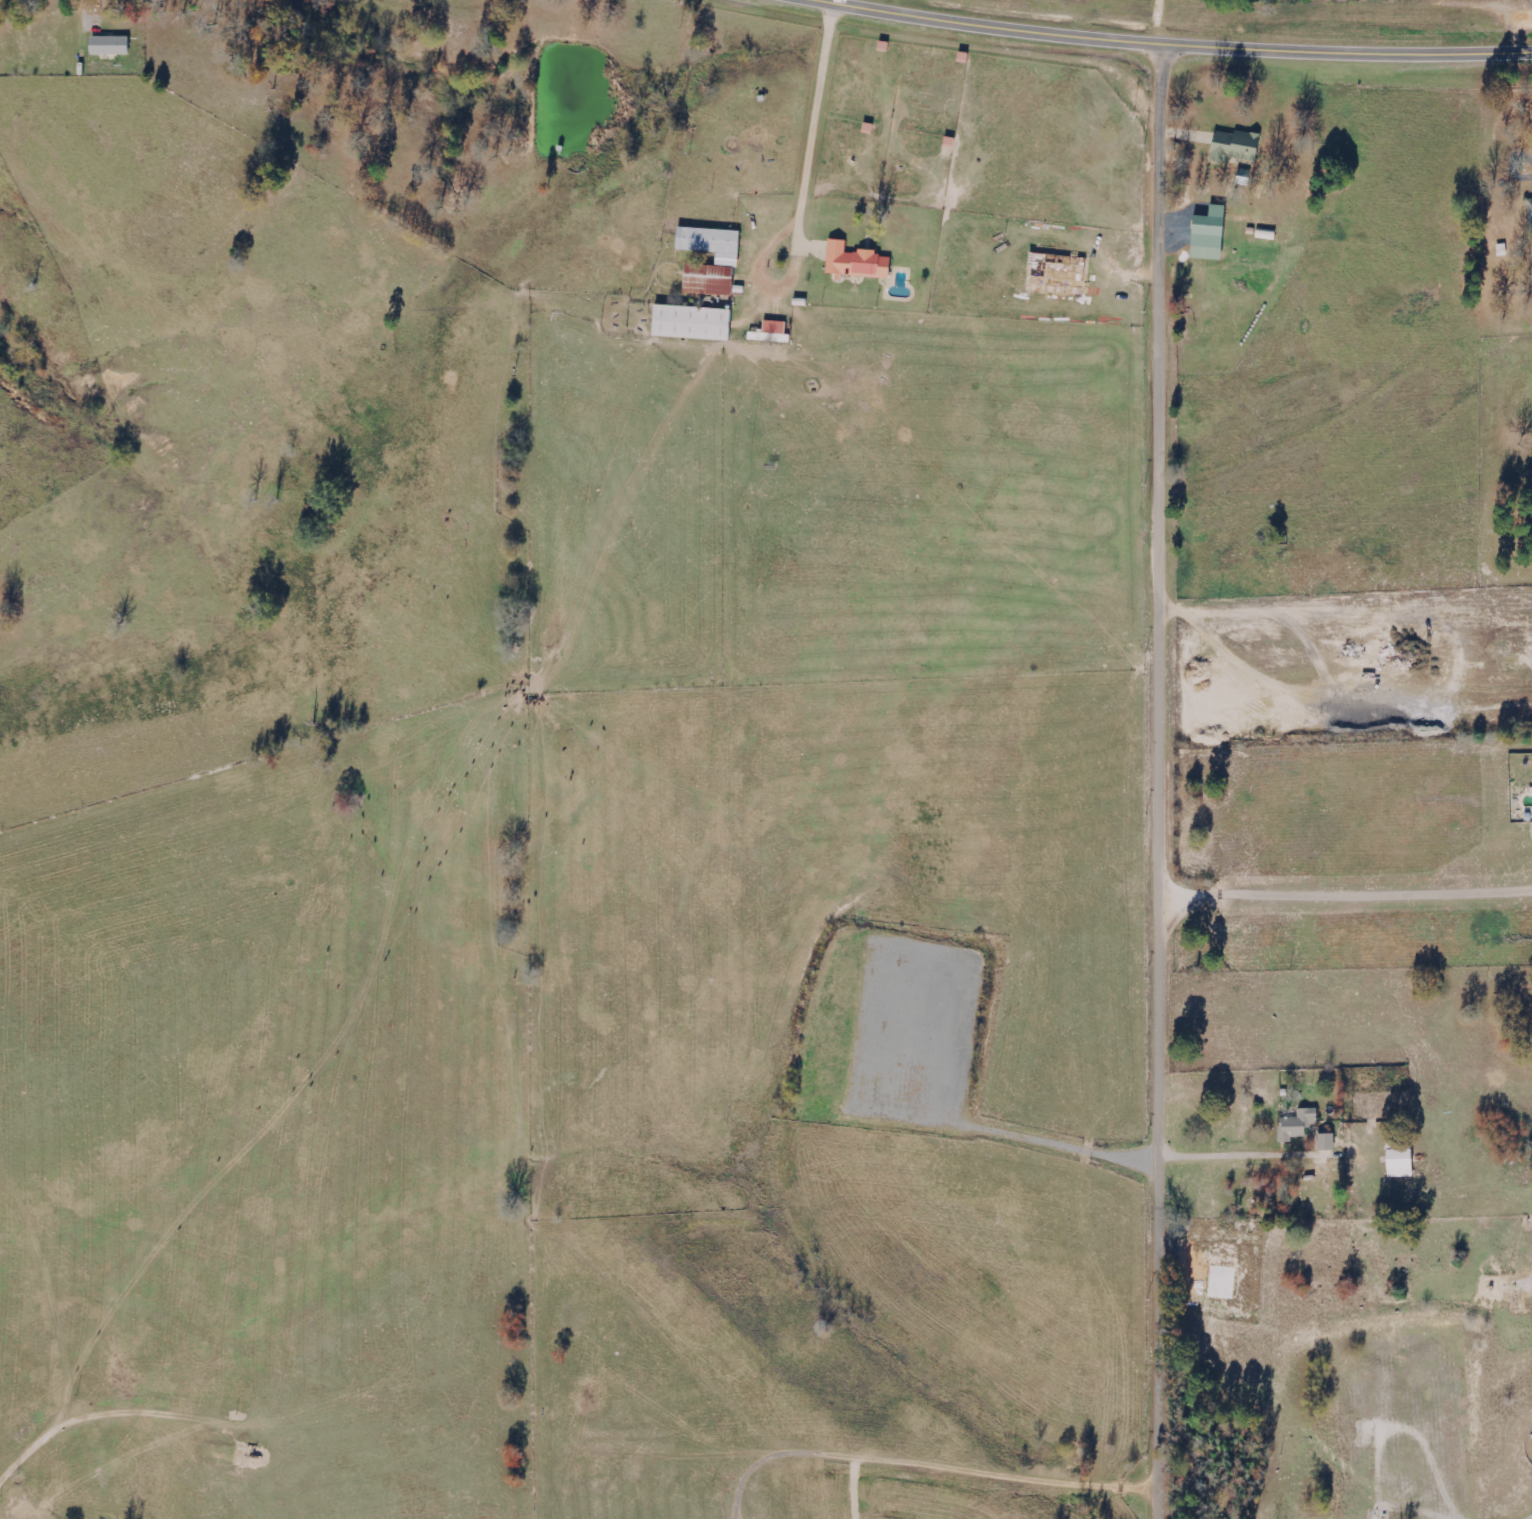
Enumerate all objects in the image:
road: (1179, 19)
road: (1186, 39)
building: (111, 46)
building: (1237, 146)
road: (813, 154)
building: (1531, 204)
building: (1211, 235)
building: (729, 259)
building: (858, 263)
building: (1058, 275)
building: (694, 324)
building: (773, 334)
road: (1168, 467)
road: (1350, 895)
building: (1299, 1125)
building: (1328, 1142)
building: (1402, 1164)
road: (1166, 1207)
road: (898, 1496)

